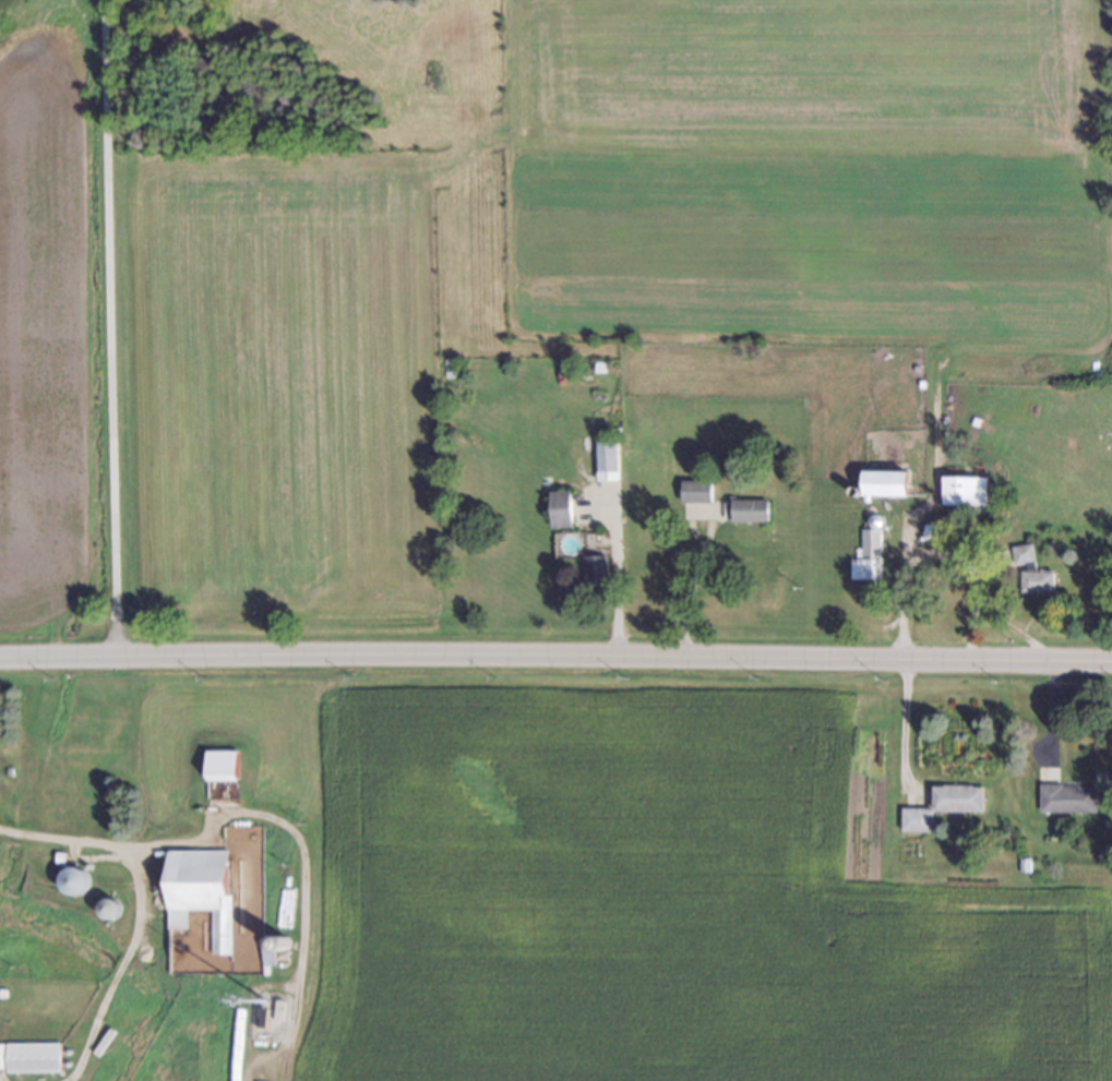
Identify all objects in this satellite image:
road: (106, 328)
building: (602, 458)
building: (881, 480)
building: (961, 489)
building: (852, 490)
building: (693, 491)
building: (557, 506)
building: (865, 509)
building: (746, 511)
building: (874, 519)
building: (931, 531)
building: (949, 540)
road: (901, 544)
building: (864, 554)
building: (1028, 567)
building: (594, 569)
road: (614, 574)
road: (970, 574)
building: (873, 587)
road: (1006, 626)
road: (555, 653)
road: (900, 718)
building: (223, 767)
building: (950, 798)
building: (1064, 798)
road: (240, 812)
building: (911, 819)
road: (121, 848)
building: (59, 857)
building: (1020, 864)
building: (71, 879)
building: (198, 893)
building: (106, 906)
building: (277, 941)
building: (262, 951)
building: (268, 953)
building: (277, 959)
road: (118, 968)
building: (1, 988)
building: (277, 1012)
building: (259, 1020)
road: (91, 1028)
building: (101, 1040)
building: (0, 1052)
building: (31, 1056)

